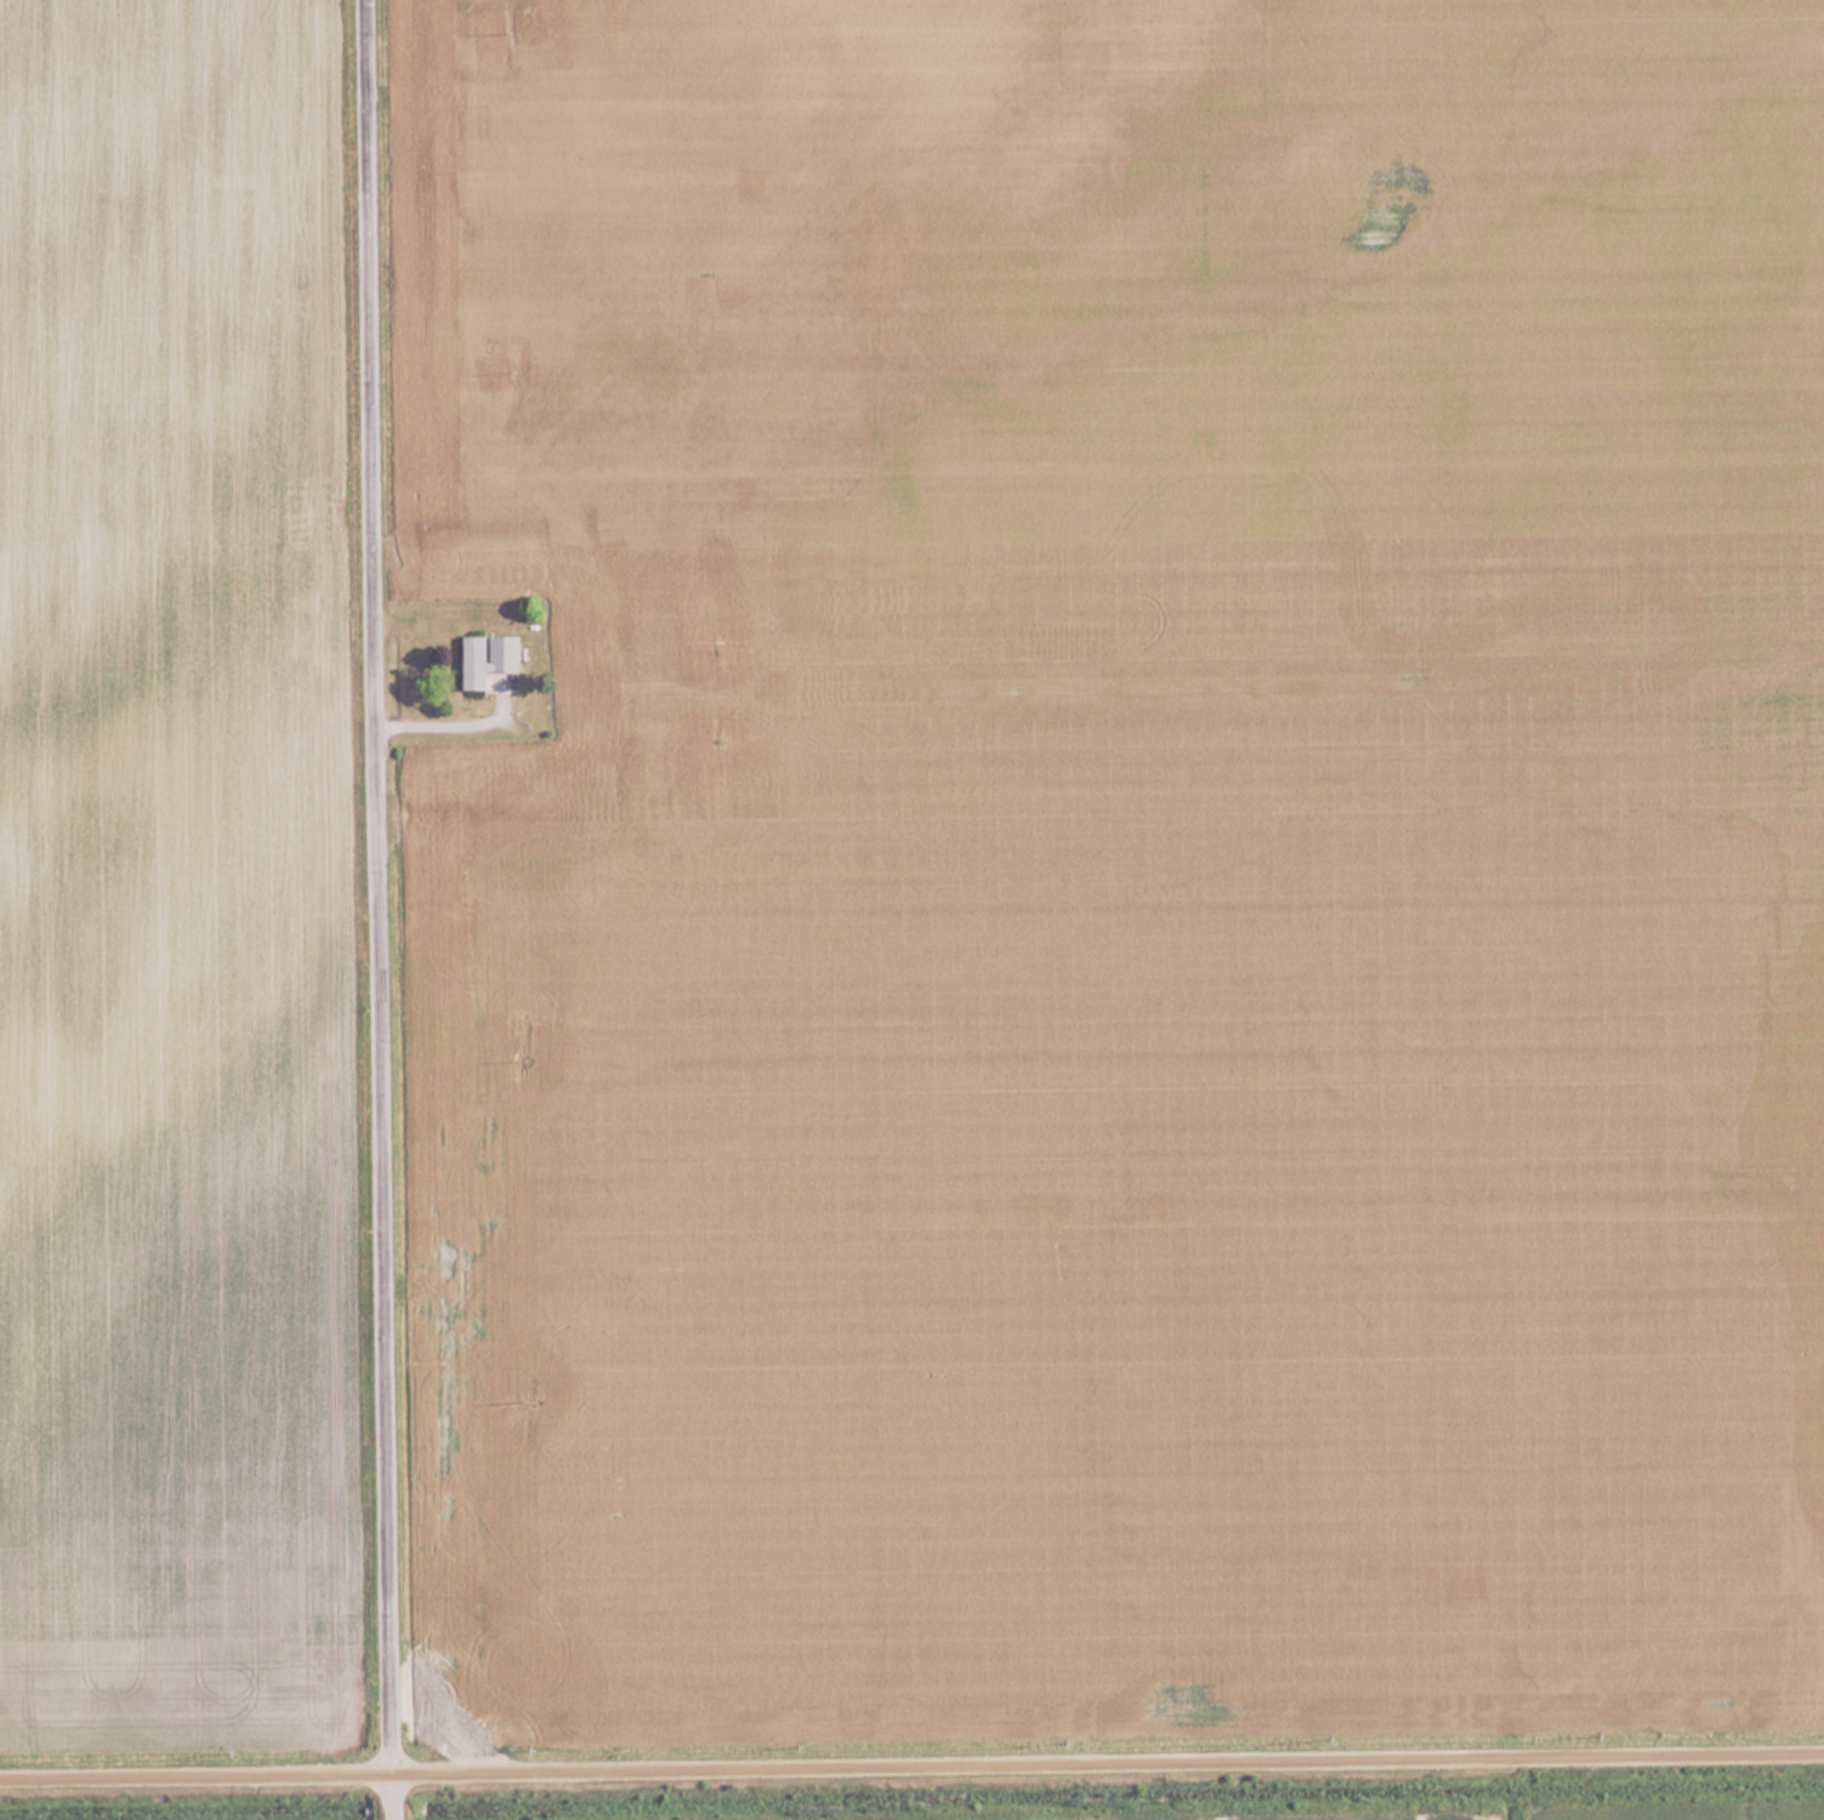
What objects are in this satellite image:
building: (488, 656)
road: (379, 910)
road: (911, 1767)

